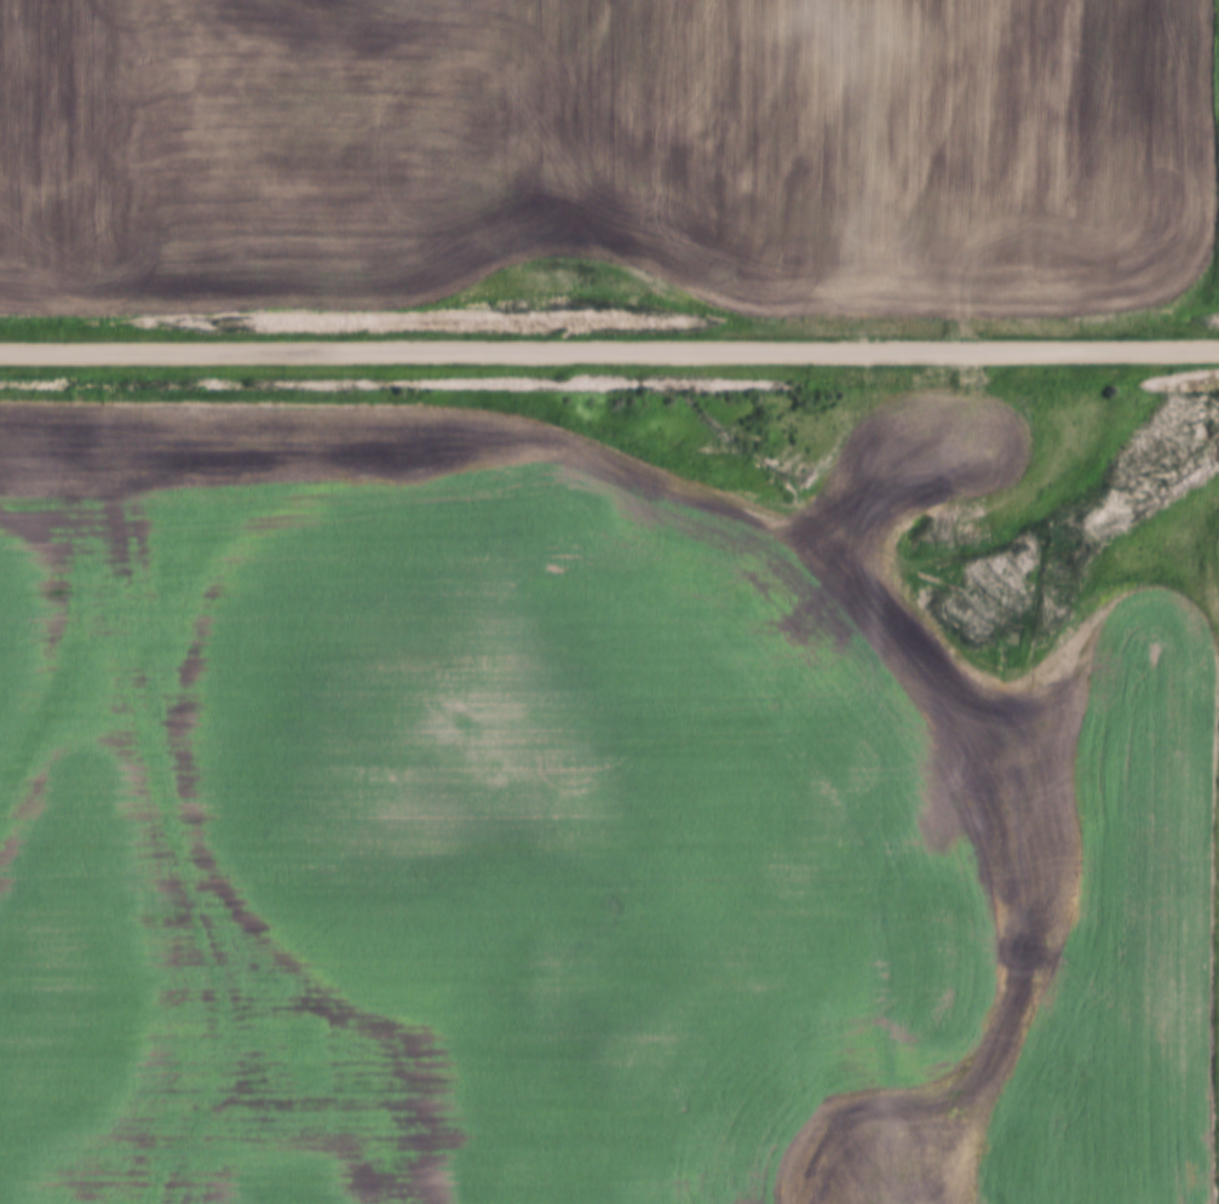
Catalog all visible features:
road: (609, 352)

